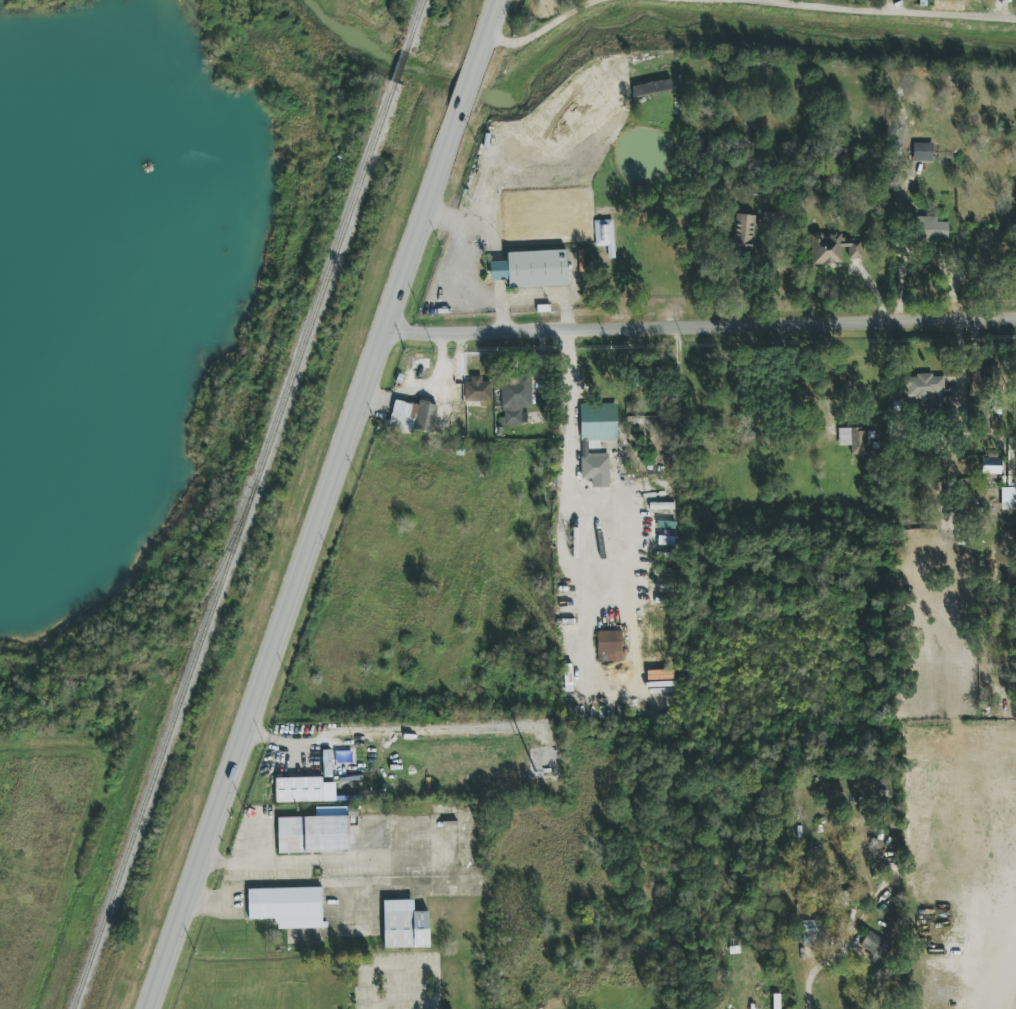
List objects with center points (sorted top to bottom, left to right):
road: (882, 12)
road: (495, 25)
railway: (414, 26)
road: (544, 26)
road: (481, 62)
railway: (399, 68)
building: (652, 88)
road: (469, 95)
building: (923, 152)
building: (770, 218)
building: (930, 228)
building: (743, 232)
building: (604, 234)
building: (833, 248)
road: (463, 261)
building: (532, 269)
road: (550, 294)
road: (501, 316)
road: (702, 324)
building: (420, 368)
building: (925, 388)
building: (478, 389)
building: (516, 398)
building: (415, 416)
building: (596, 439)
building: (991, 466)
building: (1008, 498)
road: (570, 502)
railway: (234, 546)
railway: (229, 547)
road: (305, 563)
building: (609, 646)
road: (274, 739)
building: (299, 789)
building: (313, 834)
road: (367, 859)
road: (236, 863)
road: (280, 884)
building: (287, 907)
building: (405, 925)
building: (811, 932)
building: (875, 945)
road: (432, 972)
road: (813, 973)
road: (373, 1005)

